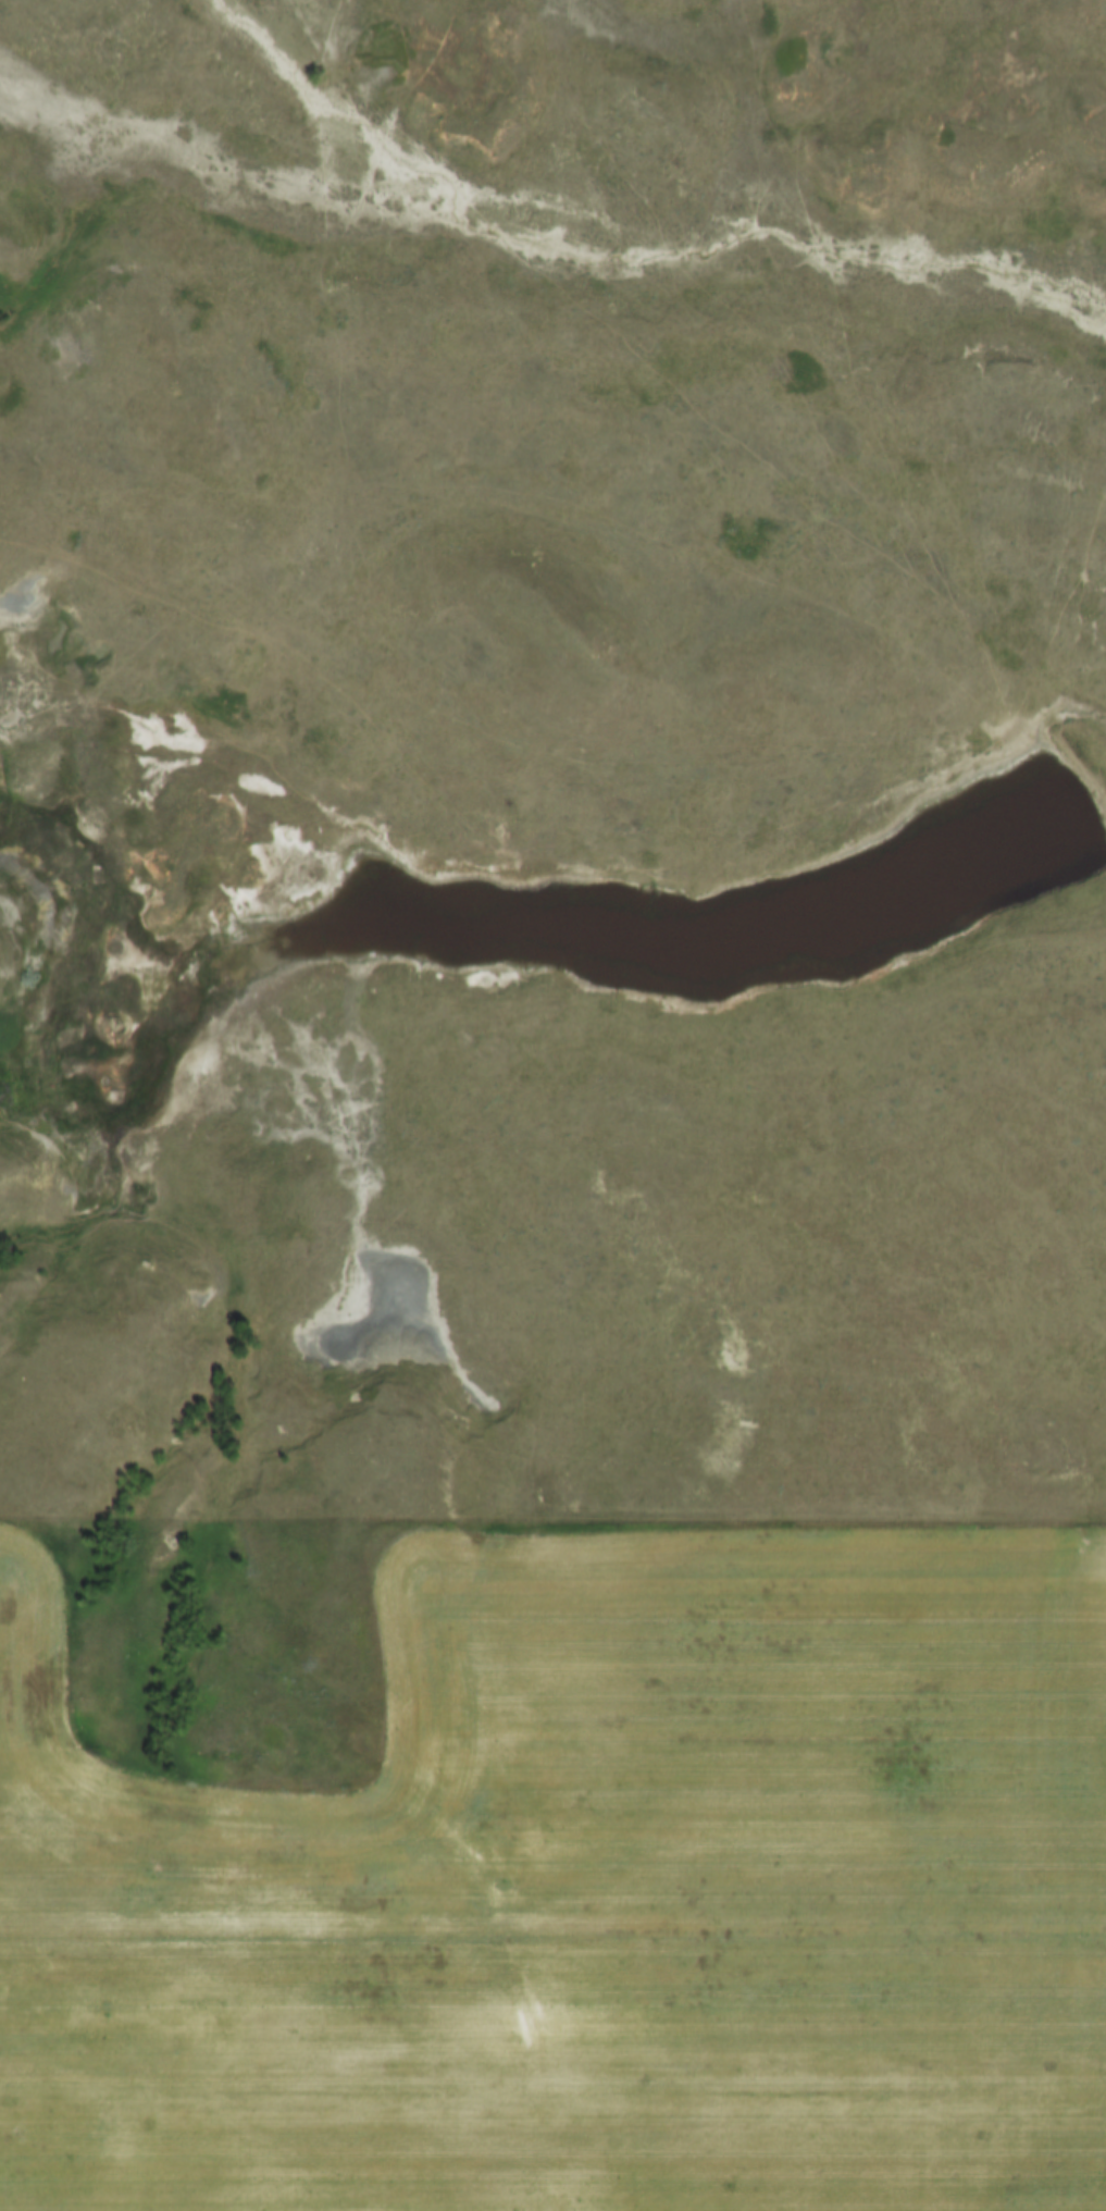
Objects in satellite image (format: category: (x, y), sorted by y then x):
dam: (1078, 759)

